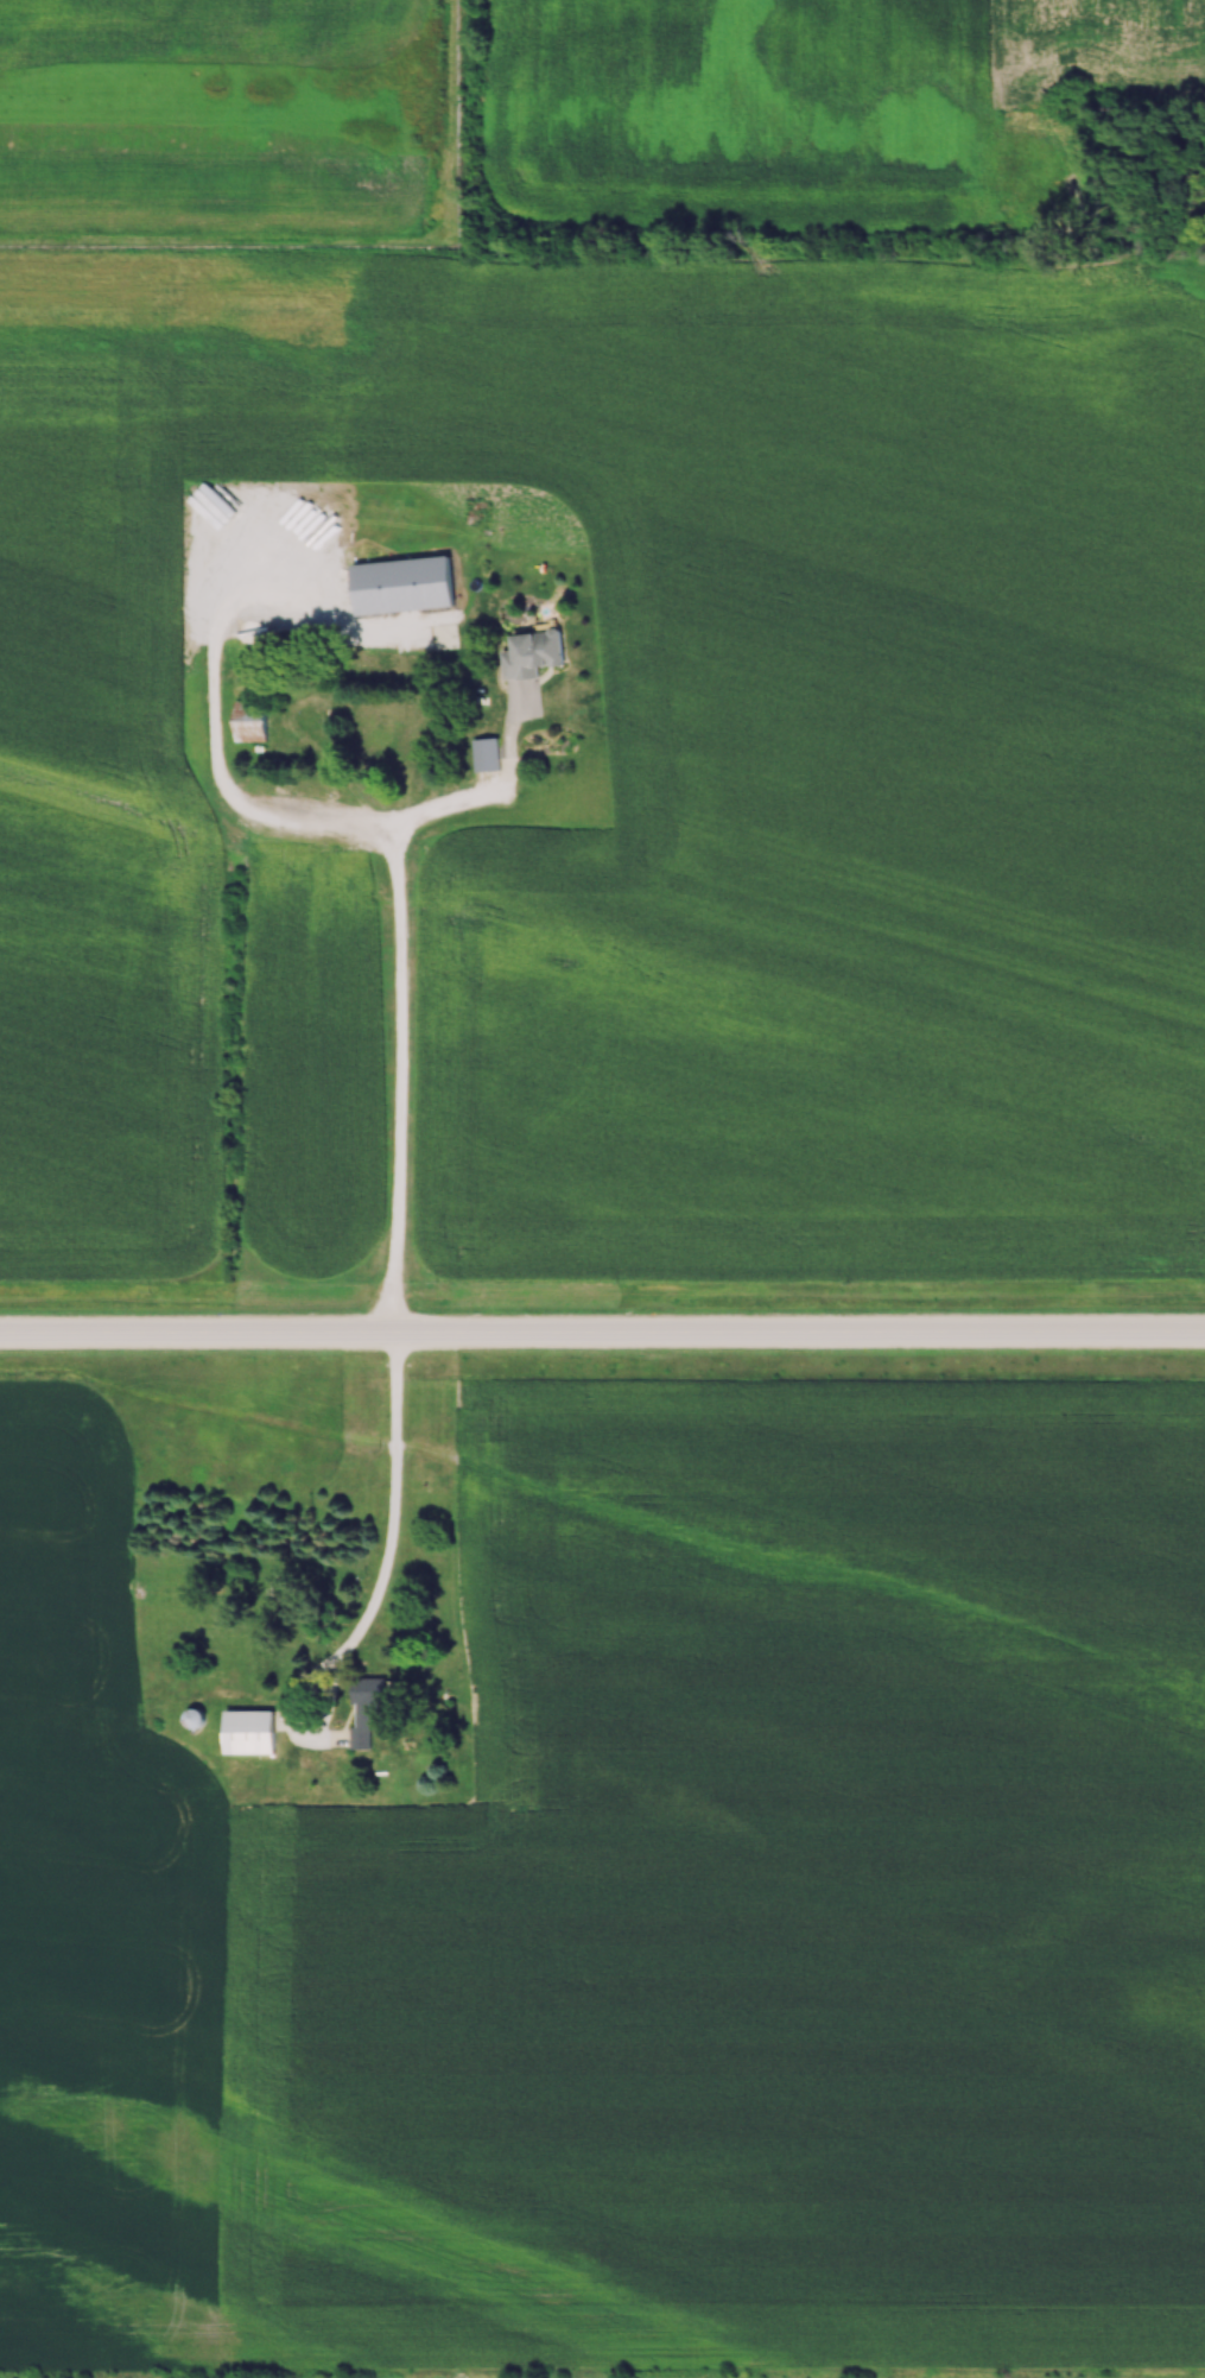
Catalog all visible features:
road: (387, 1214)
road: (602, 1332)

